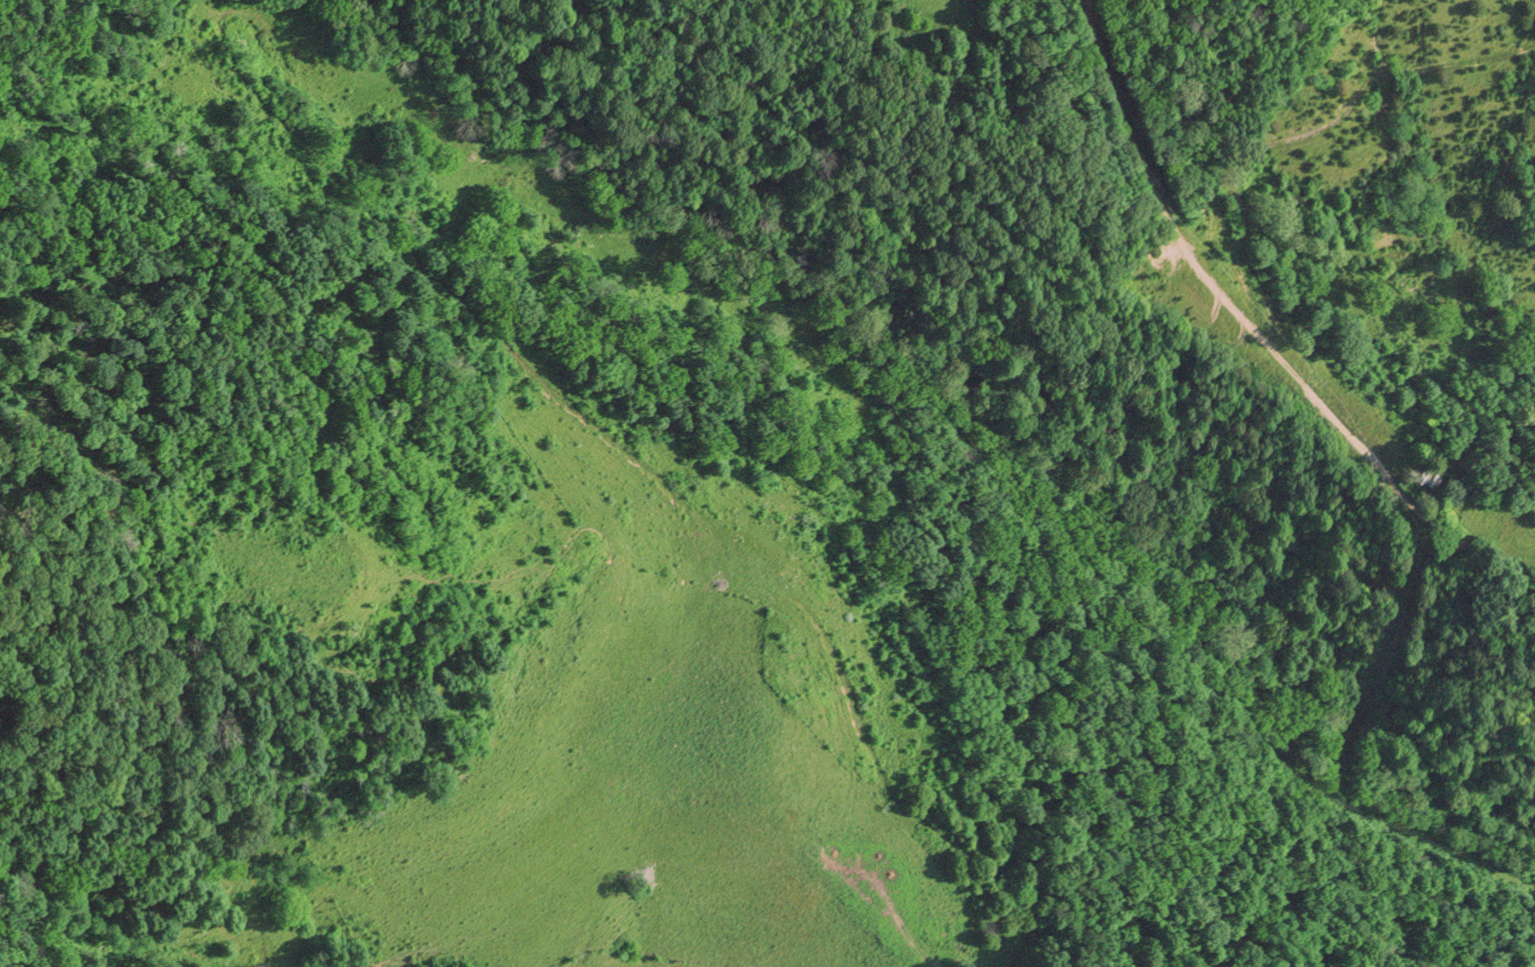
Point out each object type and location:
building: (1425, 478)

